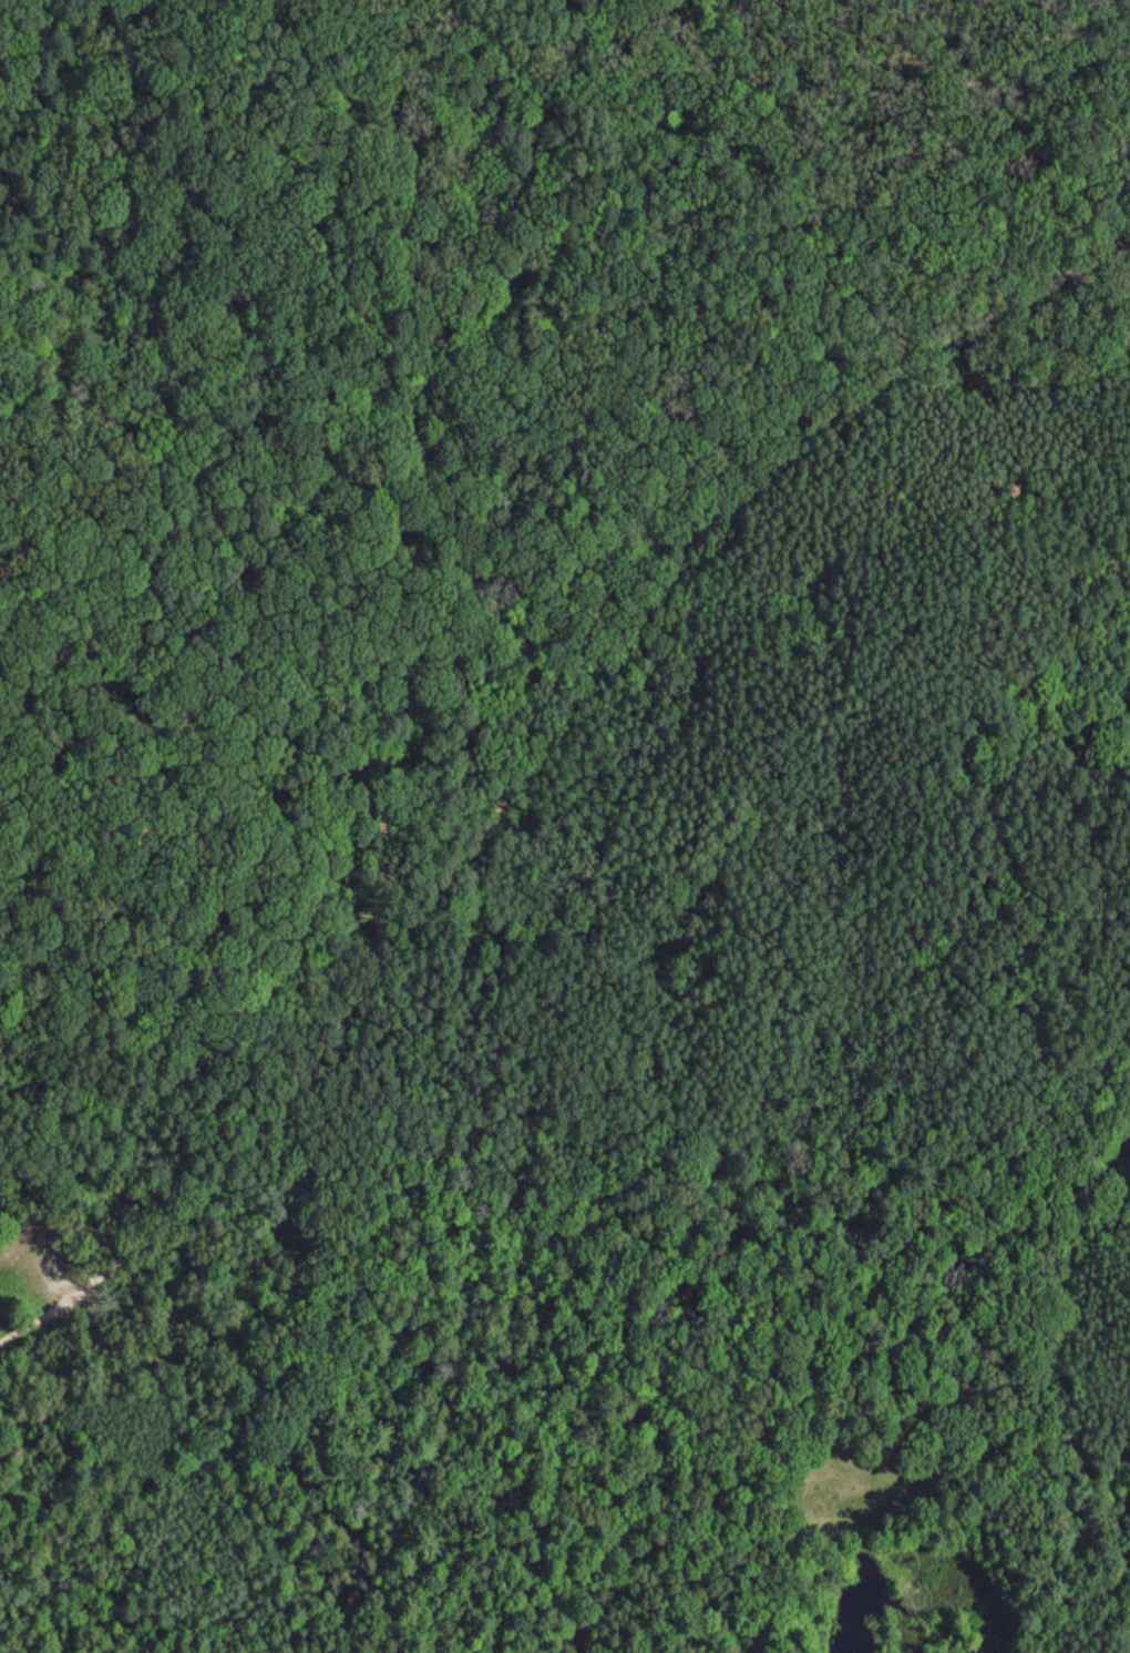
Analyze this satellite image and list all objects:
road: (296, 519)
road: (534, 758)
road: (49, 1228)

